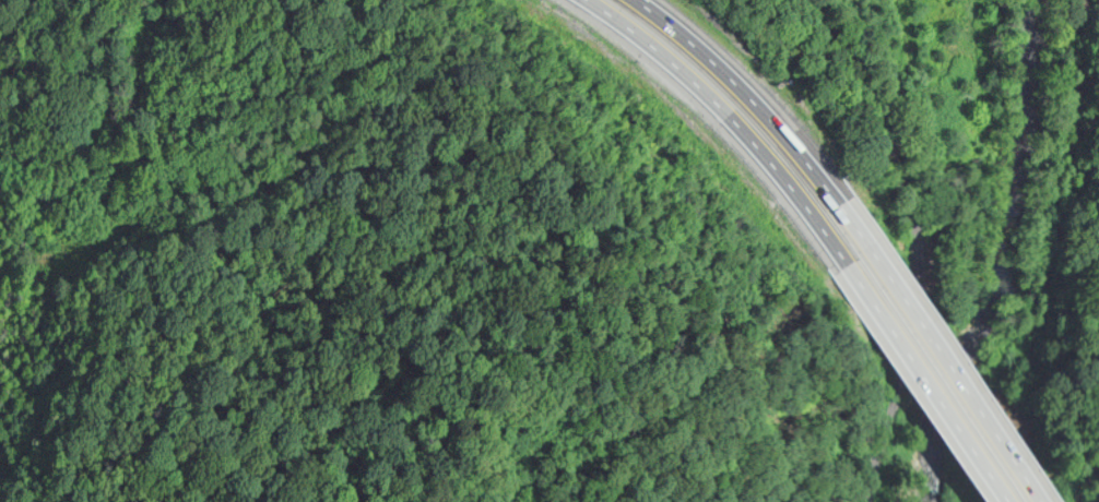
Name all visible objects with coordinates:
road: (725, 73)
road: (861, 82)
road: (728, 113)
river: (1004, 255)
road: (923, 328)
road: (915, 339)
road: (922, 380)

